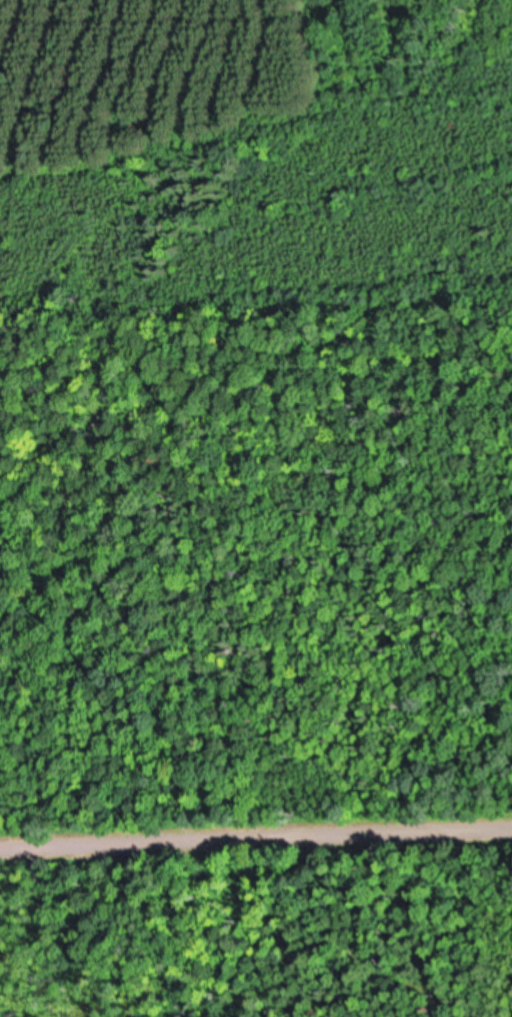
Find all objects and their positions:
road: (256, 833)
park: (260, 929)

